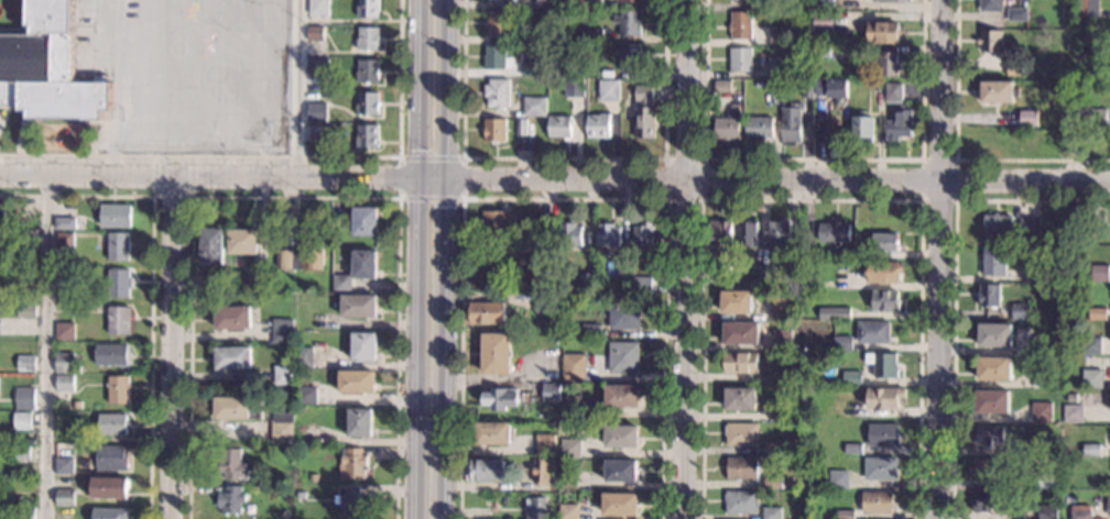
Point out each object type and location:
building: (502, 0)
building: (738, 0)
building: (630, 1)
building: (889, 1)
building: (544, 3)
building: (587, 3)
building: (824, 4)
building: (990, 5)
building: (809, 7)
building: (319, 8)
building: (1087, 8)
building: (368, 9)
building: (1016, 14)
building: (498, 22)
building: (628, 22)
building: (823, 22)
road: (21, 25)
building: (740, 25)
building: (882, 32)
building: (316, 33)
building: (592, 35)
building: (779, 36)
building: (368, 37)
building: (534, 37)
building: (989, 41)
building: (1096, 43)
building: (820, 52)
building: (629, 57)
building: (496, 58)
building: (739, 59)
building: (886, 64)
building: (318, 67)
building: (50, 68)
building: (530, 68)
building: (776, 69)
building: (1014, 69)
building: (367, 70)
building: (1068, 71)
building: (721, 86)
road: (296, 87)
building: (806, 87)
building: (576, 88)
building: (829, 88)
road: (417, 89)
road: (450, 89)
building: (608, 90)
building: (892, 91)
building: (997, 92)
building: (497, 93)
building: (368, 103)
building: (534, 106)
building: (316, 111)
building: (644, 112)
building: (1026, 118)
building: (1097, 119)
building: (790, 124)
building: (598, 125)
building: (897, 125)
building: (523, 126)
building: (558, 126)
building: (758, 126)
building: (725, 128)
building: (862, 129)
building: (494, 130)
building: (318, 132)
building: (367, 135)
building: (1004, 142)
building: (1070, 144)
road: (955, 156)
road: (277, 157)
road: (431, 158)
road: (564, 158)
road: (813, 158)
road: (208, 174)
road: (153, 177)
road: (193, 177)
road: (400, 178)
road: (433, 179)
road: (464, 179)
road: (779, 181)
road: (700, 195)
road: (173, 198)
road: (295, 198)
road: (566, 198)
road: (432, 199)
road: (809, 199)
road: (954, 199)
building: (2, 214)
building: (115, 216)
building: (364, 221)
building: (68, 222)
building: (494, 222)
building: (1077, 223)
building: (997, 225)
building: (546, 227)
building: (1027, 227)
building: (719, 233)
building: (747, 233)
building: (780, 233)
building: (833, 233)
building: (569, 234)
building: (607, 235)
building: (642, 236)
building: (28, 239)
building: (65, 240)
building: (806, 241)
building: (243, 242)
building: (883, 242)
building: (118, 246)
building: (211, 246)
building: (525, 247)
building: (869, 254)
building: (302, 256)
road: (684, 259)
road: (939, 259)
building: (993, 261)
building: (363, 264)
building: (622, 266)
building: (882, 272)
building: (757, 273)
building: (1098, 273)
building: (65, 276)
building: (1031, 276)
building: (28, 277)
building: (538, 277)
building: (255, 279)
building: (562, 279)
building: (841, 280)
road: (152, 281)
building: (215, 281)
road: (953, 281)
building: (119, 283)
building: (585, 283)
building: (341, 284)
building: (641, 285)
building: (988, 296)
building: (884, 300)
building: (544, 302)
building: (734, 302)
building: (359, 306)
building: (780, 308)
building: (26, 311)
building: (1020, 311)
building: (483, 312)
building: (623, 313)
building: (834, 313)
building: (1096, 313)
building: (232, 317)
building: (119, 320)
building: (282, 330)
building: (65, 331)
building: (590, 331)
building: (872, 332)
building: (740, 333)
building: (993, 335)
building: (781, 340)
building: (842, 343)
building: (1040, 344)
road: (44, 345)
road: (172, 345)
building: (1090, 345)
building: (363, 346)
road: (415, 349)
road: (447, 349)
building: (494, 353)
building: (112, 354)
building: (826, 355)
building: (303, 356)
building: (232, 357)
building: (622, 357)
building: (25, 363)
building: (64, 363)
building: (740, 363)
building: (881, 365)
building: (78, 367)
building: (573, 367)
building: (992, 368)
building: (590, 374)
building: (282, 375)
building: (783, 375)
building: (851, 378)
building: (1041, 378)
building: (1090, 378)
building: (357, 382)
building: (65, 383)
building: (119, 389)
building: (549, 391)
building: (9, 393)
building: (306, 396)
building: (621, 396)
building: (499, 398)
building: (739, 398)
building: (883, 398)
building: (25, 399)
building: (990, 401)
building: (77, 405)
building: (572, 407)
building: (238, 408)
building: (777, 412)
building: (1041, 412)
building: (1071, 413)
building: (22, 421)
building: (359, 422)
building: (112, 423)
building: (282, 428)
building: (304, 433)
building: (491, 433)
building: (741, 434)
building: (882, 434)
building: (620, 437)
building: (988, 437)
building: (544, 444)
building: (1043, 445)
building: (851, 448)
building: (569, 449)
building: (773, 449)
building: (1090, 450)
building: (22, 452)
building: (111, 457)
building: (554, 460)
building: (352, 463)
building: (231, 464)
building: (64, 465)
building: (741, 468)
building: (879, 468)
building: (983, 468)
building: (486, 471)
building: (620, 471)
building: (540, 474)
building: (313, 477)
building: (567, 479)
building: (837, 479)
building: (1047, 479)
building: (772, 482)
building: (1068, 485)
building: (110, 488)
building: (301, 495)
building: (64, 497)
building: (19, 499)
building: (231, 499)
building: (353, 501)
building: (741, 501)
building: (987, 501)
building: (877, 503)
building: (619, 504)
building: (1108, 504)
building: (554, 507)
building: (535, 508)
building: (567, 511)
building: (1046, 511)
building: (24, 512)
building: (1080, 512)
building: (110, 514)
building: (284, 514)
building: (771, 514)
building: (845, 515)
building: (554, 517)

